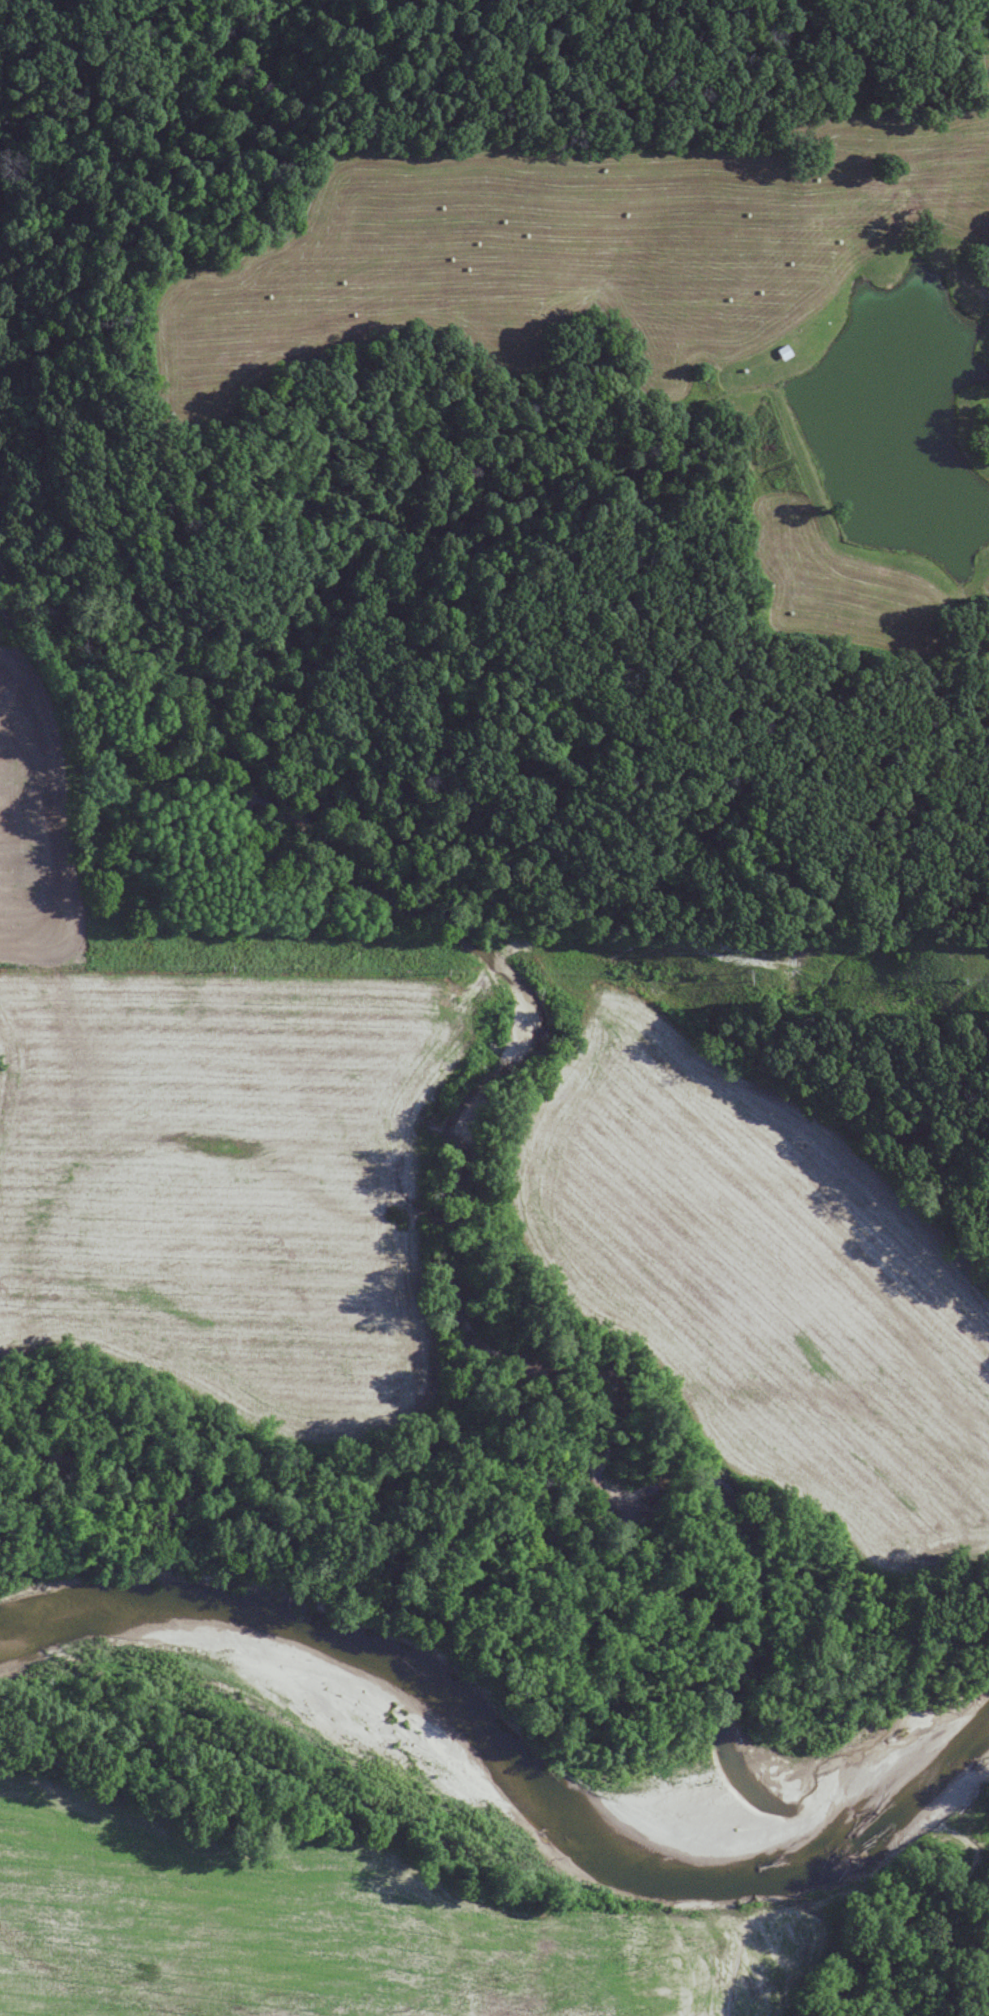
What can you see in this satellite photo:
river: (479, 1788)
road: (795, 1855)

